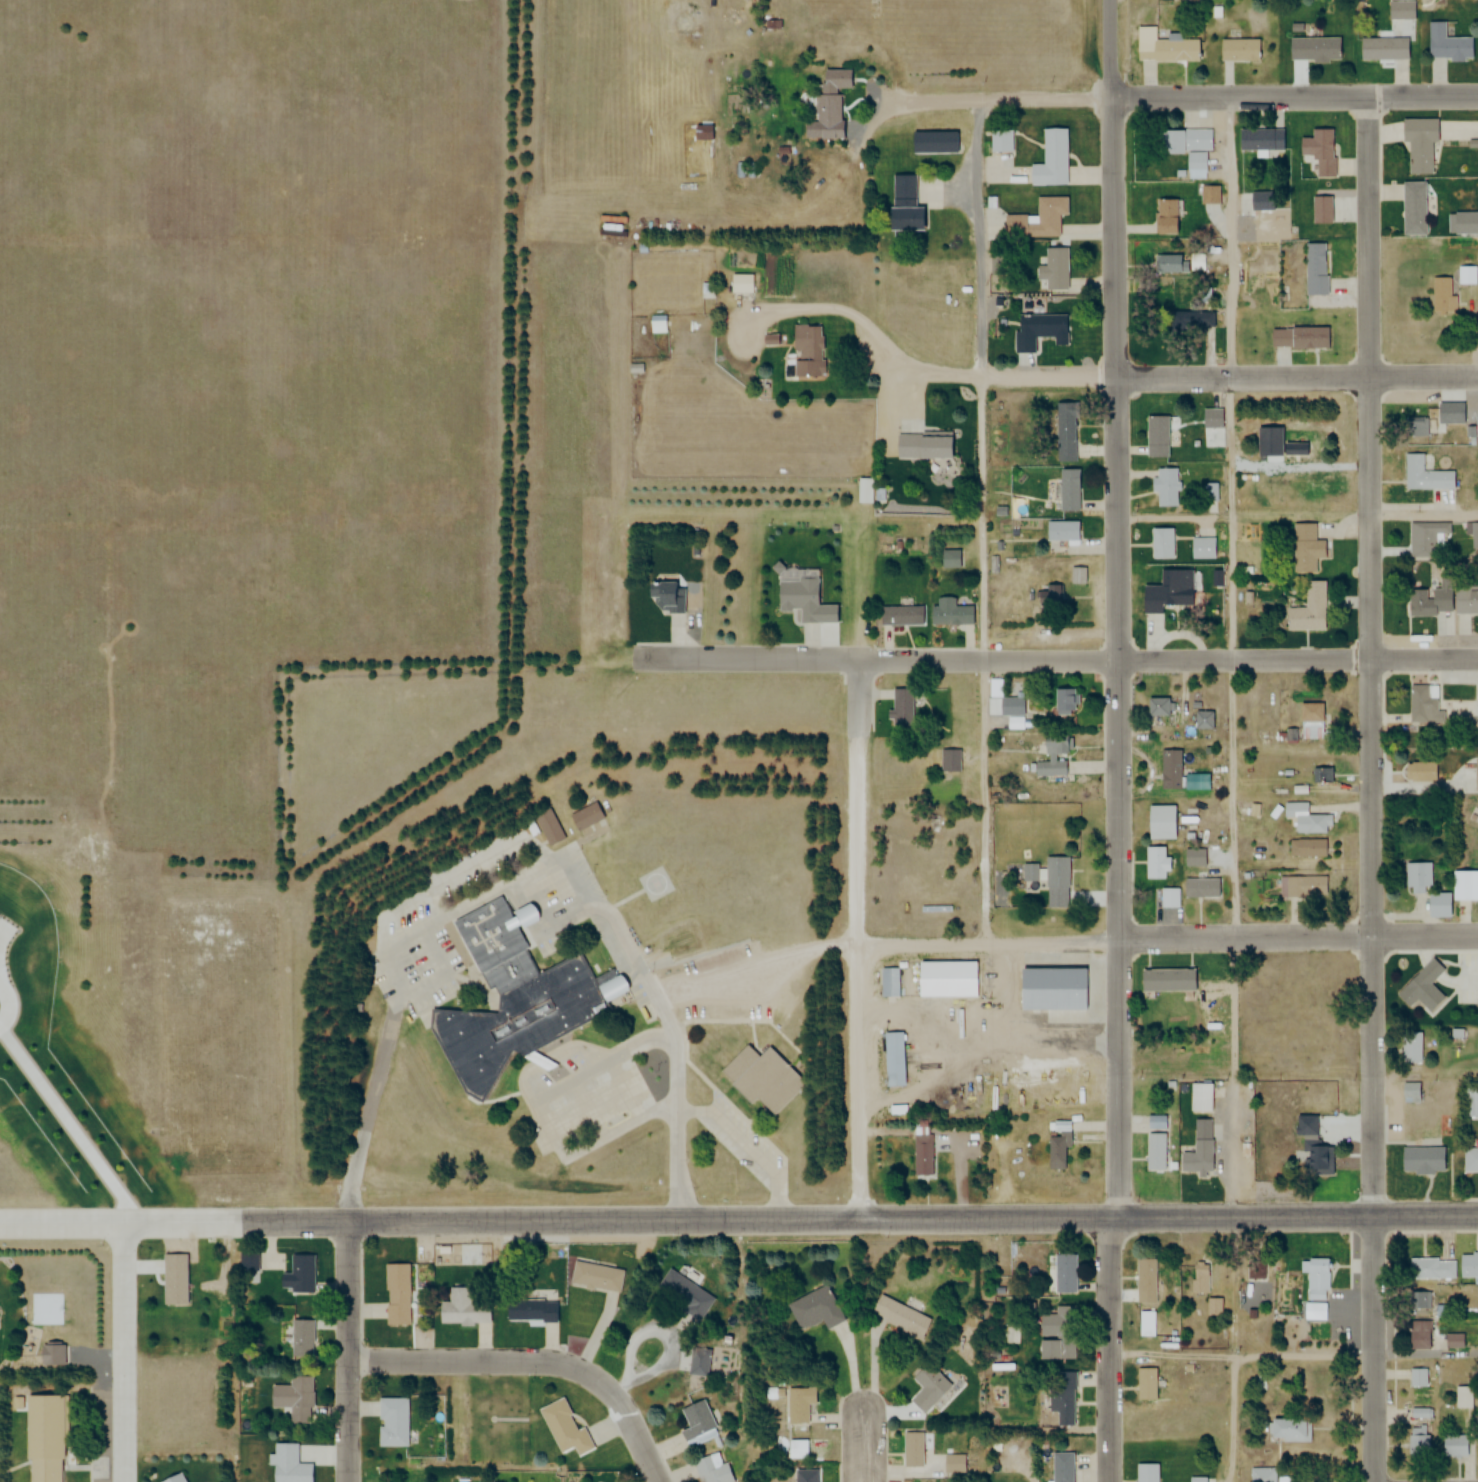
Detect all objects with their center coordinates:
building: (1400, 11)
building: (774, 26)
building: (1447, 44)
building: (1164, 47)
building: (1314, 49)
building: (1383, 49)
building: (1241, 50)
building: (835, 78)
road: (1188, 96)
building: (813, 130)
building: (703, 133)
building: (1255, 140)
building: (1001, 141)
building: (933, 142)
building: (1419, 145)
building: (1187, 148)
building: (1319, 151)
building: (1051, 159)
building: (1211, 195)
building: (1261, 201)
building: (902, 206)
building: (1414, 207)
building: (1322, 209)
building: (1165, 217)
building: (1038, 220)
building: (1171, 263)
building: (1054, 269)
building: (1315, 269)
building: (741, 284)
building: (1443, 295)
building: (1191, 320)
road: (864, 322)
building: (657, 324)
building: (1039, 329)
building: (1308, 337)
building: (806, 350)
road: (1229, 376)
building: (1211, 418)
building: (1416, 428)
building: (1064, 431)
building: (1156, 431)
building: (920, 445)
building: (1293, 449)
building: (1424, 475)
building: (1164, 487)
building: (1066, 489)
road: (982, 519)
building: (1059, 530)
building: (1475, 535)
building: (1424, 539)
building: (1160, 543)
building: (1200, 548)
building: (1305, 548)
building: (947, 559)
building: (1077, 576)
building: (1167, 594)
building: (664, 596)
building: (1050, 597)
building: (796, 598)
building: (1465, 599)
building: (1429, 601)
building: (1307, 610)
building: (947, 613)
building: (898, 616)
road: (1234, 656)
road: (1049, 660)
building: (1477, 695)
building: (1063, 703)
building: (1009, 707)
building: (1156, 707)
building: (1421, 708)
building: (899, 709)
building: (1201, 721)
building: (1310, 722)
road: (1121, 741)
building: (1051, 756)
building: (948, 760)
building: (1170, 769)
building: (1421, 772)
building: (1475, 774)
building: (1322, 776)
road: (1374, 790)
building: (587, 816)
building: (1305, 819)
building: (1160, 821)
building: (548, 826)
building: (1307, 848)
building: (1194, 857)
building: (1154, 863)
road: (859, 867)
building: (1029, 871)
building: (1055, 871)
building: (1469, 880)
helipad: (660, 883)
building: (1305, 886)
building: (1199, 887)
building: (1427, 889)
building: (1169, 898)
parking lot: (408, 921)
road: (547, 931)
road: (384, 938)
road: (1168, 940)
road: (755, 963)
building: (945, 979)
building: (888, 982)
road: (425, 985)
building: (1049, 988)
building: (1422, 988)
building: (511, 1002)
road: (671, 1023)
building: (1410, 1048)
building: (891, 1058)
building: (766, 1082)
road: (623, 1090)
road: (549, 1092)
building: (1412, 1092)
building: (1200, 1097)
road: (587, 1109)
parking lot: (591, 1109)
road: (67, 1123)
parking lot: (744, 1140)
road: (592, 1145)
road: (749, 1147)
building: (1312, 1147)
building: (1198, 1149)
building: (1056, 1150)
building: (1154, 1151)
building: (921, 1154)
building: (1471, 1159)
building: (1422, 1160)
road: (739, 1221)
building: (248, 1262)
building: (1469, 1265)
building: (1432, 1269)
building: (301, 1270)
building: (1257, 1270)
building: (1066, 1273)
building: (597, 1276)
building: (1200, 1277)
building: (1317, 1278)
building: (1145, 1279)
building: (175, 1280)
building: (684, 1294)
building: (396, 1295)
building: (1423, 1301)
building: (1213, 1306)
building: (463, 1310)
building: (529, 1310)
building: (813, 1310)
building: (898, 1317)
building: (1056, 1336)
building: (1419, 1336)
building: (301, 1338)
building: (1454, 1341)
road: (126, 1351)
road: (351, 1351)
building: (50, 1354)
road: (1292, 1354)
road: (538, 1361)
building: (1418, 1379)
building: (1146, 1383)
building: (927, 1387)
building: (1062, 1399)
building: (300, 1400)
building: (798, 1405)
building: (699, 1420)
building: (392, 1422)
building: (565, 1429)
building: (1289, 1430)
building: (43, 1439)
building: (1420, 1440)
road: (864, 1442)
building: (1457, 1446)
building: (912, 1452)
building: (953, 1464)
building: (1061, 1467)
building: (713, 1469)
building: (1146, 1472)
building: (1262, 1475)
building: (806, 1476)
building: (174, 1479)
building: (1198, 1480)

